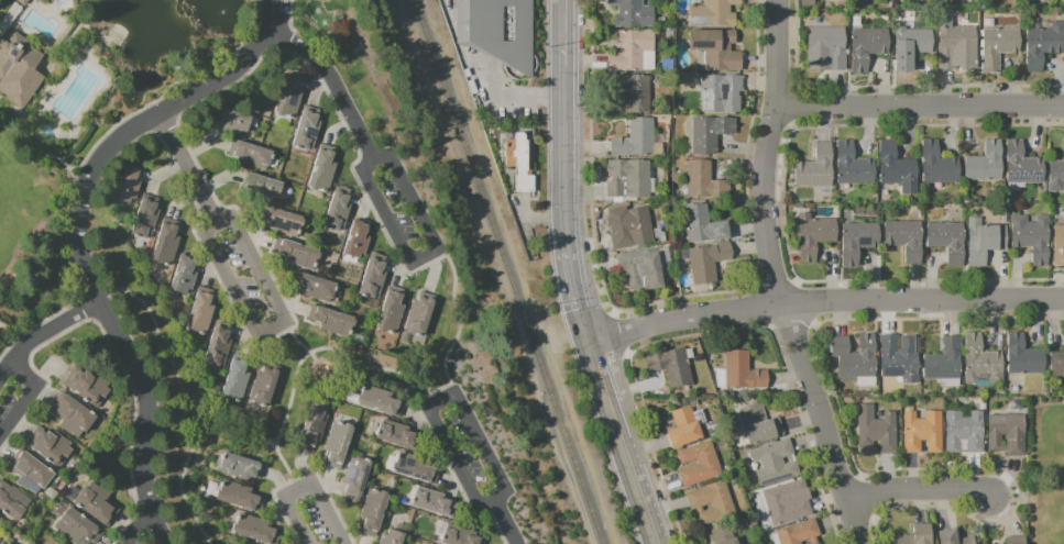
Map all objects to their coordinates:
building: (24, 2)
building: (634, 14)
building: (715, 14)
road: (289, 16)
building: (498, 32)
road: (561, 35)
building: (956, 46)
building: (1043, 46)
building: (999, 48)
building: (632, 49)
building: (717, 49)
building: (868, 49)
building: (912, 49)
building: (827, 51)
building: (20, 71)
road: (213, 81)
road: (171, 90)
building: (633, 93)
road: (212, 95)
building: (723, 95)
building: (290, 96)
road: (918, 109)
building: (232, 121)
building: (308, 131)
building: (711, 135)
building: (638, 141)
road: (34, 146)
road: (368, 148)
building: (251, 156)
building: (522, 163)
road: (563, 163)
building: (986, 165)
building: (855, 166)
building: (939, 166)
building: (1024, 166)
road: (186, 169)
building: (816, 169)
building: (898, 169)
building: (323, 170)
road: (352, 174)
building: (1056, 177)
building: (628, 179)
building: (705, 184)
building: (129, 185)
building: (264, 188)
road: (407, 196)
building: (339, 211)
road: (80, 215)
building: (146, 219)
building: (281, 221)
building: (703, 226)
building: (635, 232)
building: (816, 236)
building: (1033, 238)
building: (907, 240)
building: (358, 241)
building: (985, 242)
building: (858, 243)
building: (948, 243)
building: (167, 244)
road: (64, 245)
building: (1058, 246)
building: (297, 255)
road: (766, 255)
building: (709, 263)
building: (644, 267)
railway: (506, 271)
building: (185, 277)
building: (374, 278)
road: (794, 278)
road: (794, 280)
building: (315, 288)
road: (90, 289)
road: (687, 296)
road: (574, 299)
road: (944, 299)
road: (84, 309)
building: (392, 312)
building: (201, 313)
building: (421, 315)
road: (705, 317)
road: (458, 320)
building: (332, 322)
road: (810, 322)
road: (812, 324)
road: (766, 325)
road: (813, 325)
road: (270, 327)
road: (29, 330)
road: (43, 333)
road: (706, 333)
road: (616, 334)
building: (0, 344)
building: (219, 346)
building: (856, 358)
building: (1024, 358)
building: (899, 363)
building: (945, 363)
building: (983, 364)
road: (364, 366)
building: (1057, 366)
road: (615, 367)
building: (672, 368)
road: (34, 369)
road: (597, 373)
building: (745, 374)
building: (238, 380)
road: (293, 381)
building: (265, 386)
building: (89, 387)
road: (26, 393)
building: (381, 402)
road: (183, 404)
building: (74, 415)
road: (138, 421)
building: (760, 425)
building: (314, 430)
building: (684, 430)
building: (878, 431)
building: (924, 433)
building: (965, 433)
building: (1008, 435)
building: (399, 436)
road: (434, 441)
road: (251, 443)
road: (446, 444)
building: (339, 445)
building: (51, 447)
road: (482, 449)
building: (776, 464)
building: (700, 466)
building: (241, 468)
building: (415, 469)
road: (972, 469)
park: (1045, 469)
road: (629, 473)
building: (32, 474)
building: (357, 480)
road: (304, 486)
road: (914, 491)
building: (240, 498)
road: (864, 498)
road: (1021, 499)
building: (13, 502)
building: (434, 503)
road: (485, 503)
building: (712, 503)
building: (787, 504)
building: (98, 506)
building: (374, 513)
road: (491, 520)
road: (503, 522)
road: (846, 522)
road: (131, 529)
building: (79, 530)
building: (256, 531)
building: (801, 534)
building: (724, 535)
building: (460, 536)
building: (919, 536)
building: (394, 537)
building: (953, 539)
building: (1017, 541)
building: (1, 542)

